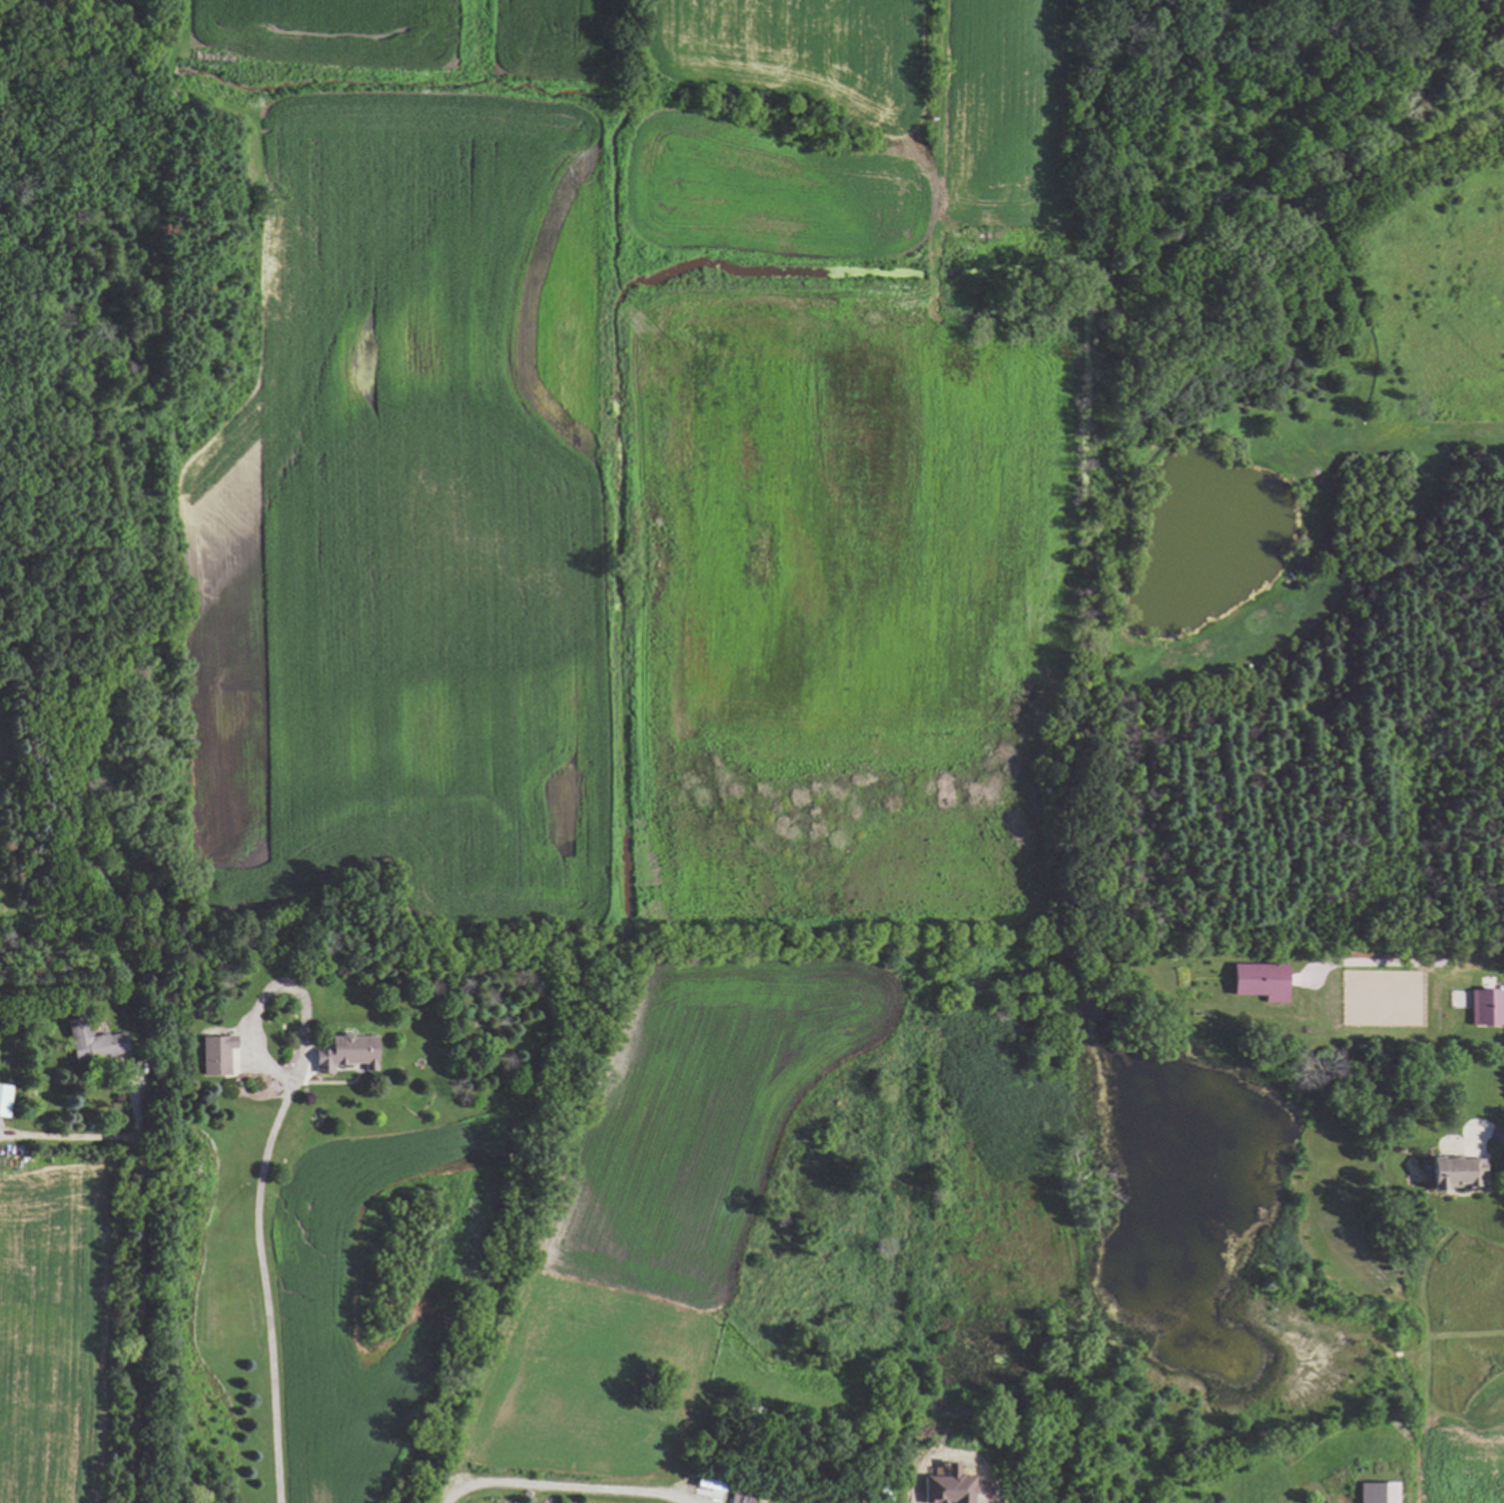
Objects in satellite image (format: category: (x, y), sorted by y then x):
crop: (654, 530)
building: (1258, 980)
road: (273, 990)
building: (1484, 1007)
building: (90, 1042)
building: (343, 1053)
building: (213, 1055)
building: (2, 1100)
road: (1493, 1131)
road: (69, 1136)
building: (1453, 1173)
road: (266, 1291)
road: (134, 1292)
road: (563, 1485)
building: (1374, 1493)

